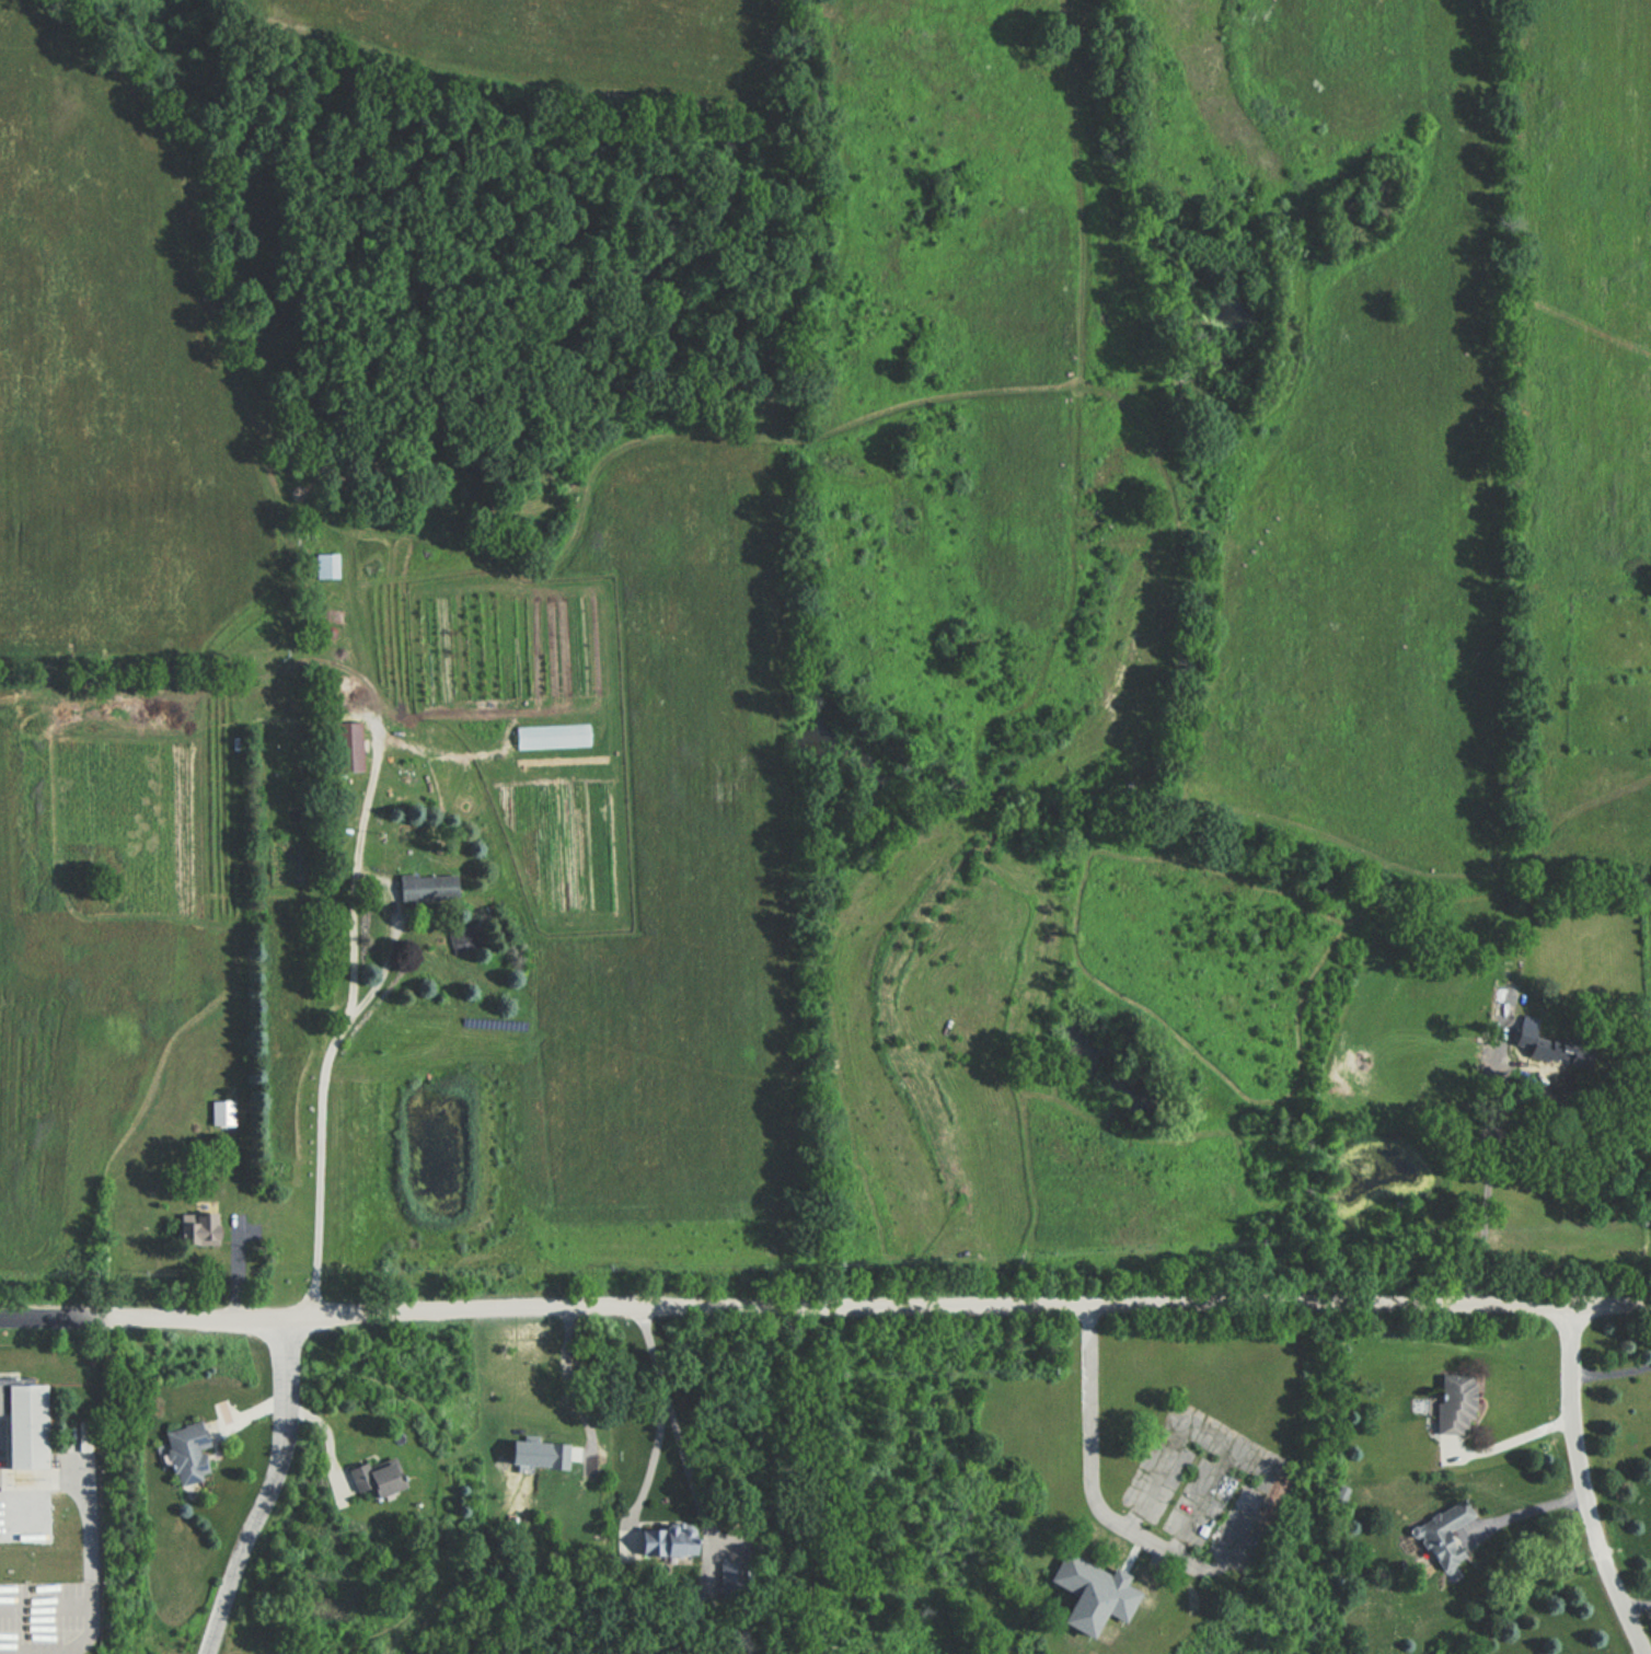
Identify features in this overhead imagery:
building: (324, 565)
building: (343, 747)
road: (366, 802)
building: (426, 887)
road: (358, 1006)
road: (959, 1094)
building: (219, 1111)
road: (1488, 1192)
building: (197, 1228)
road: (889, 1304)
road: (63, 1312)
road: (1612, 1373)
road: (578, 1387)
building: (1452, 1404)
road: (663, 1411)
building: (24, 1422)
road: (1519, 1436)
building: (187, 1451)
building: (373, 1478)
road: (690, 1478)
road: (1585, 1483)
road: (266, 1487)
road: (1533, 1511)
building: (661, 1541)
building: (1435, 1545)
road: (1217, 1560)
road: (89, 1580)
road: (1637, 1599)

